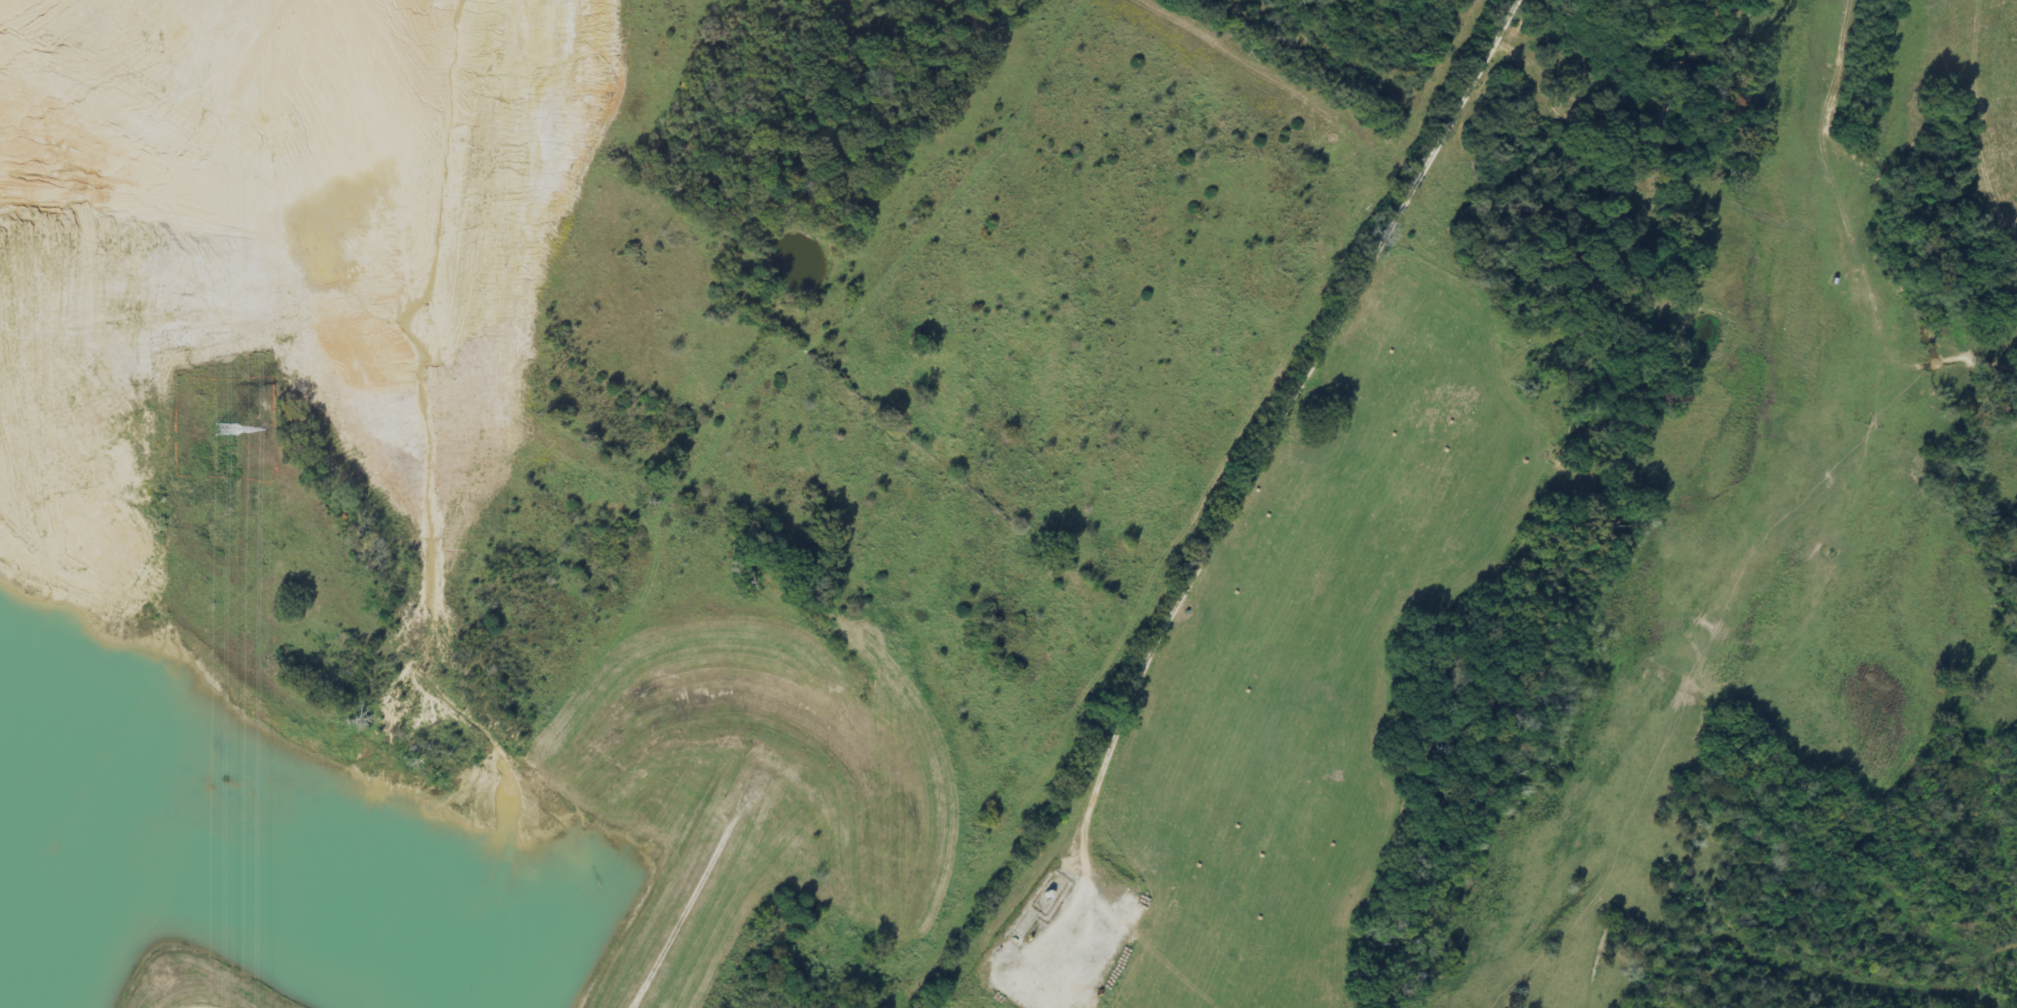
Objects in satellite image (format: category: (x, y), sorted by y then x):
power tower: (227, 431)
quarry: (83, 476)

